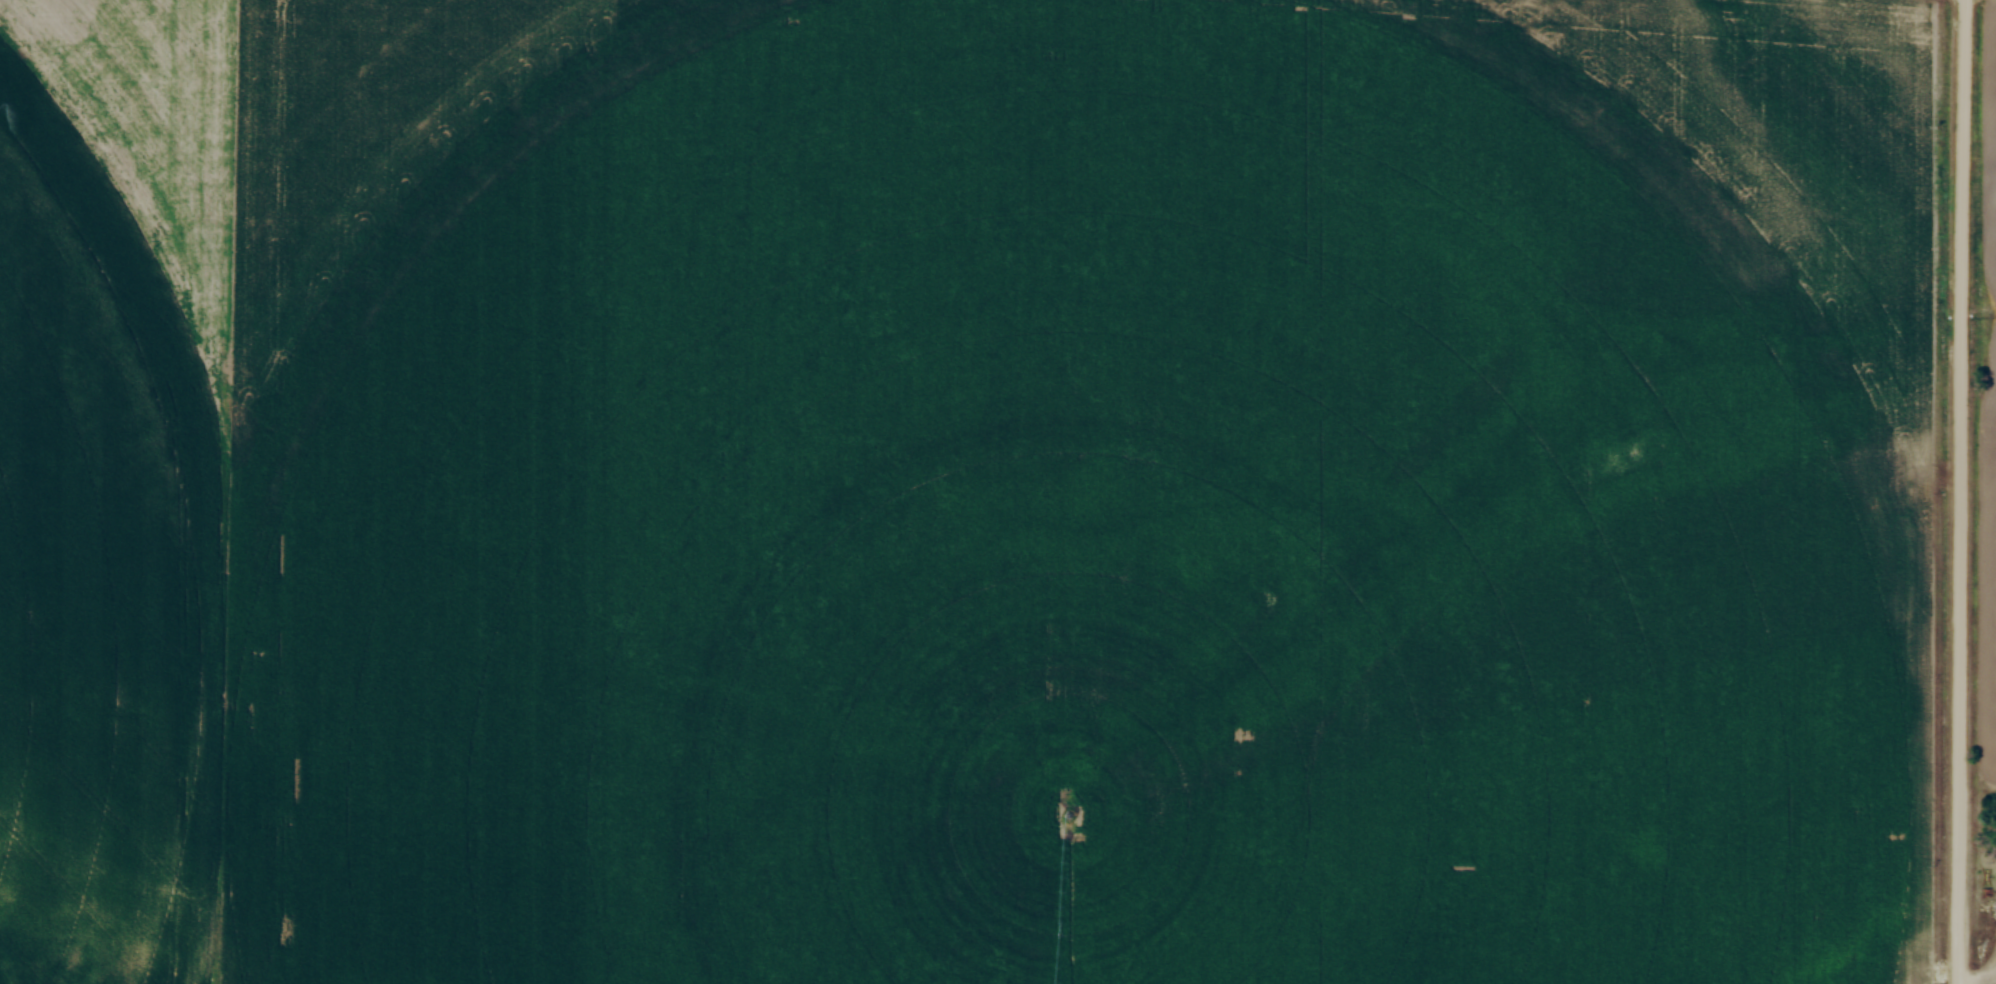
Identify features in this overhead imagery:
road: (1966, 492)
road: (1984, 978)

